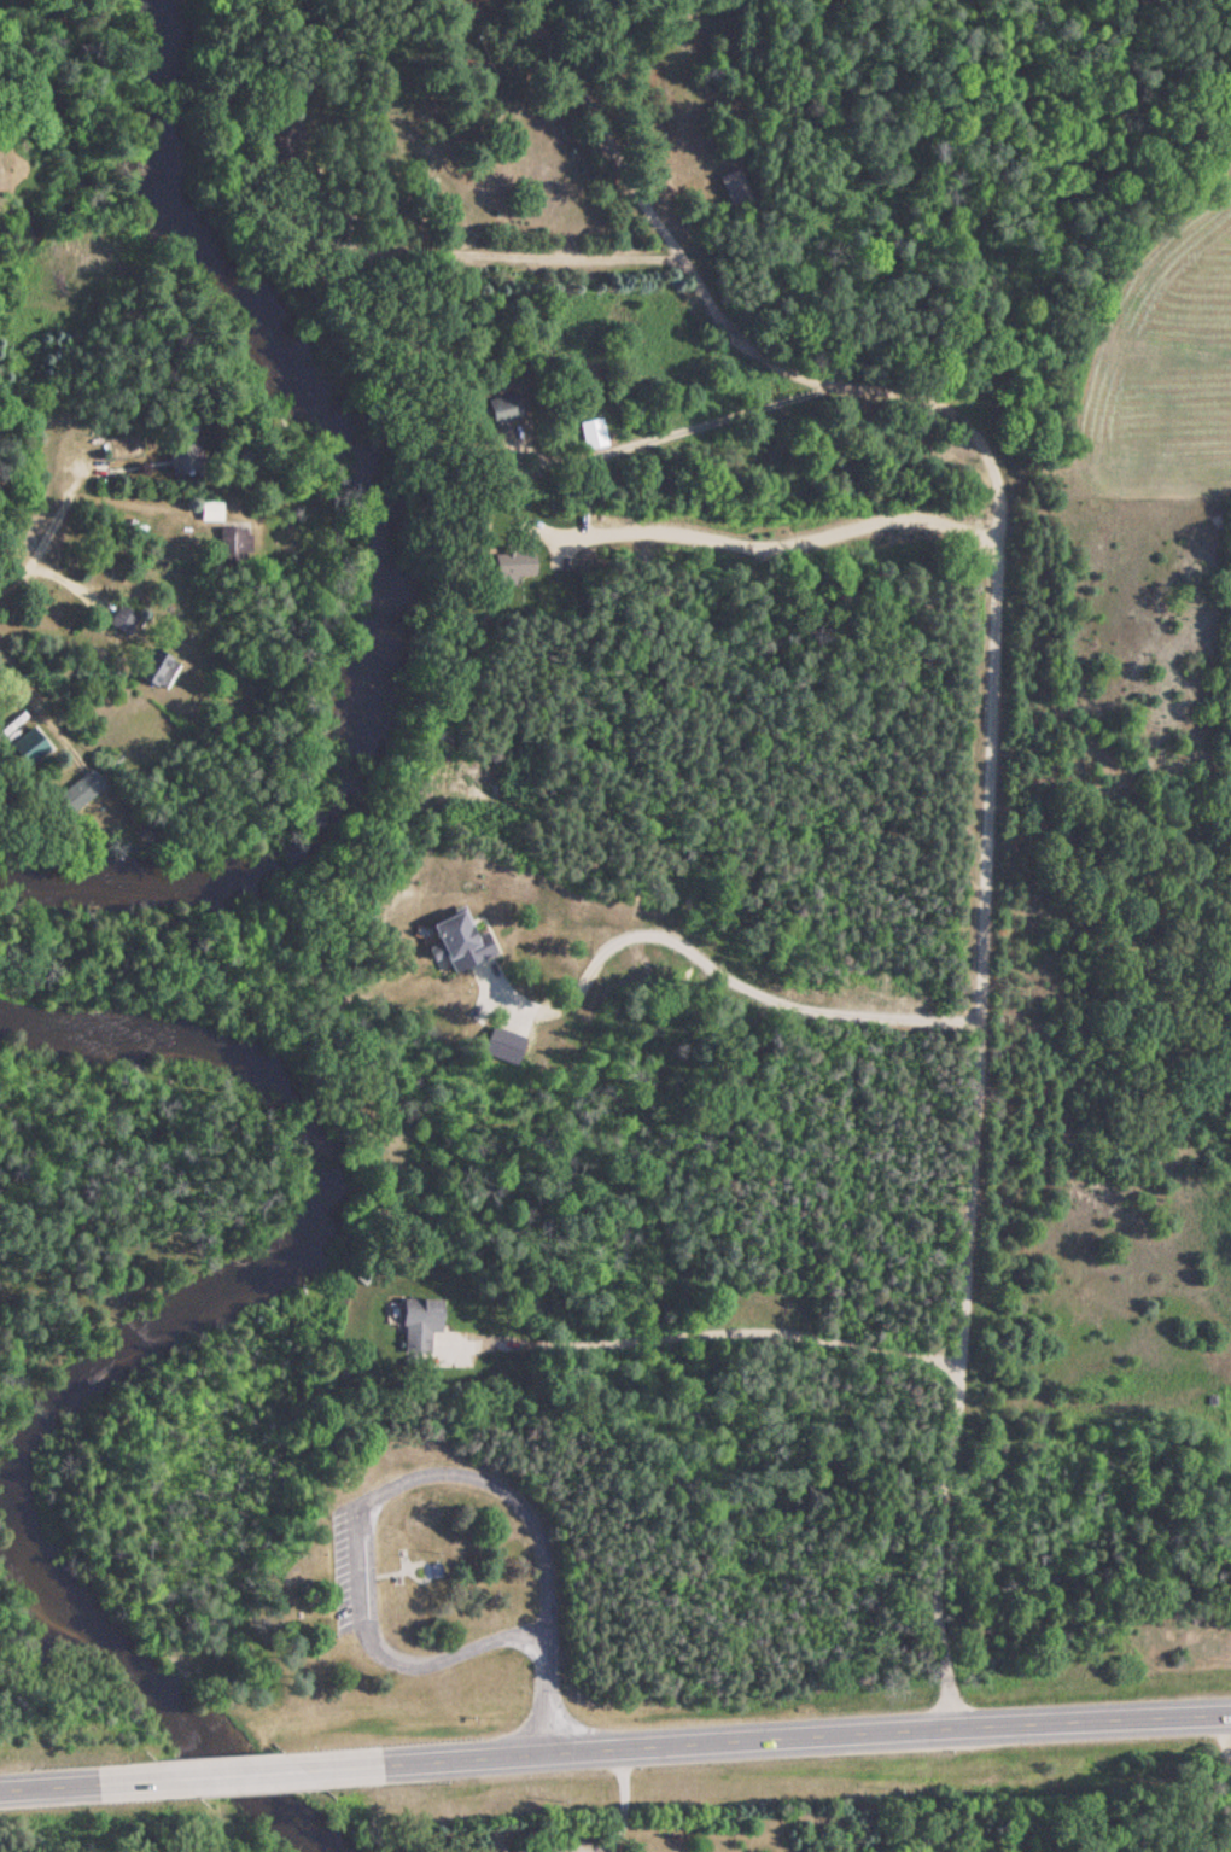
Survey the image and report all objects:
building: (730, 189)
crop: (1169, 355)
building: (590, 433)
building: (181, 458)
road: (35, 503)
building: (208, 510)
building: (224, 543)
river: (384, 551)
building: (119, 618)
building: (157, 667)
building: (25, 746)
road: (985, 747)
building: (461, 940)
building: (418, 1322)
river: (124, 1349)
park: (374, 1553)
road: (770, 1736)
road: (244, 1775)
road: (89, 1784)

